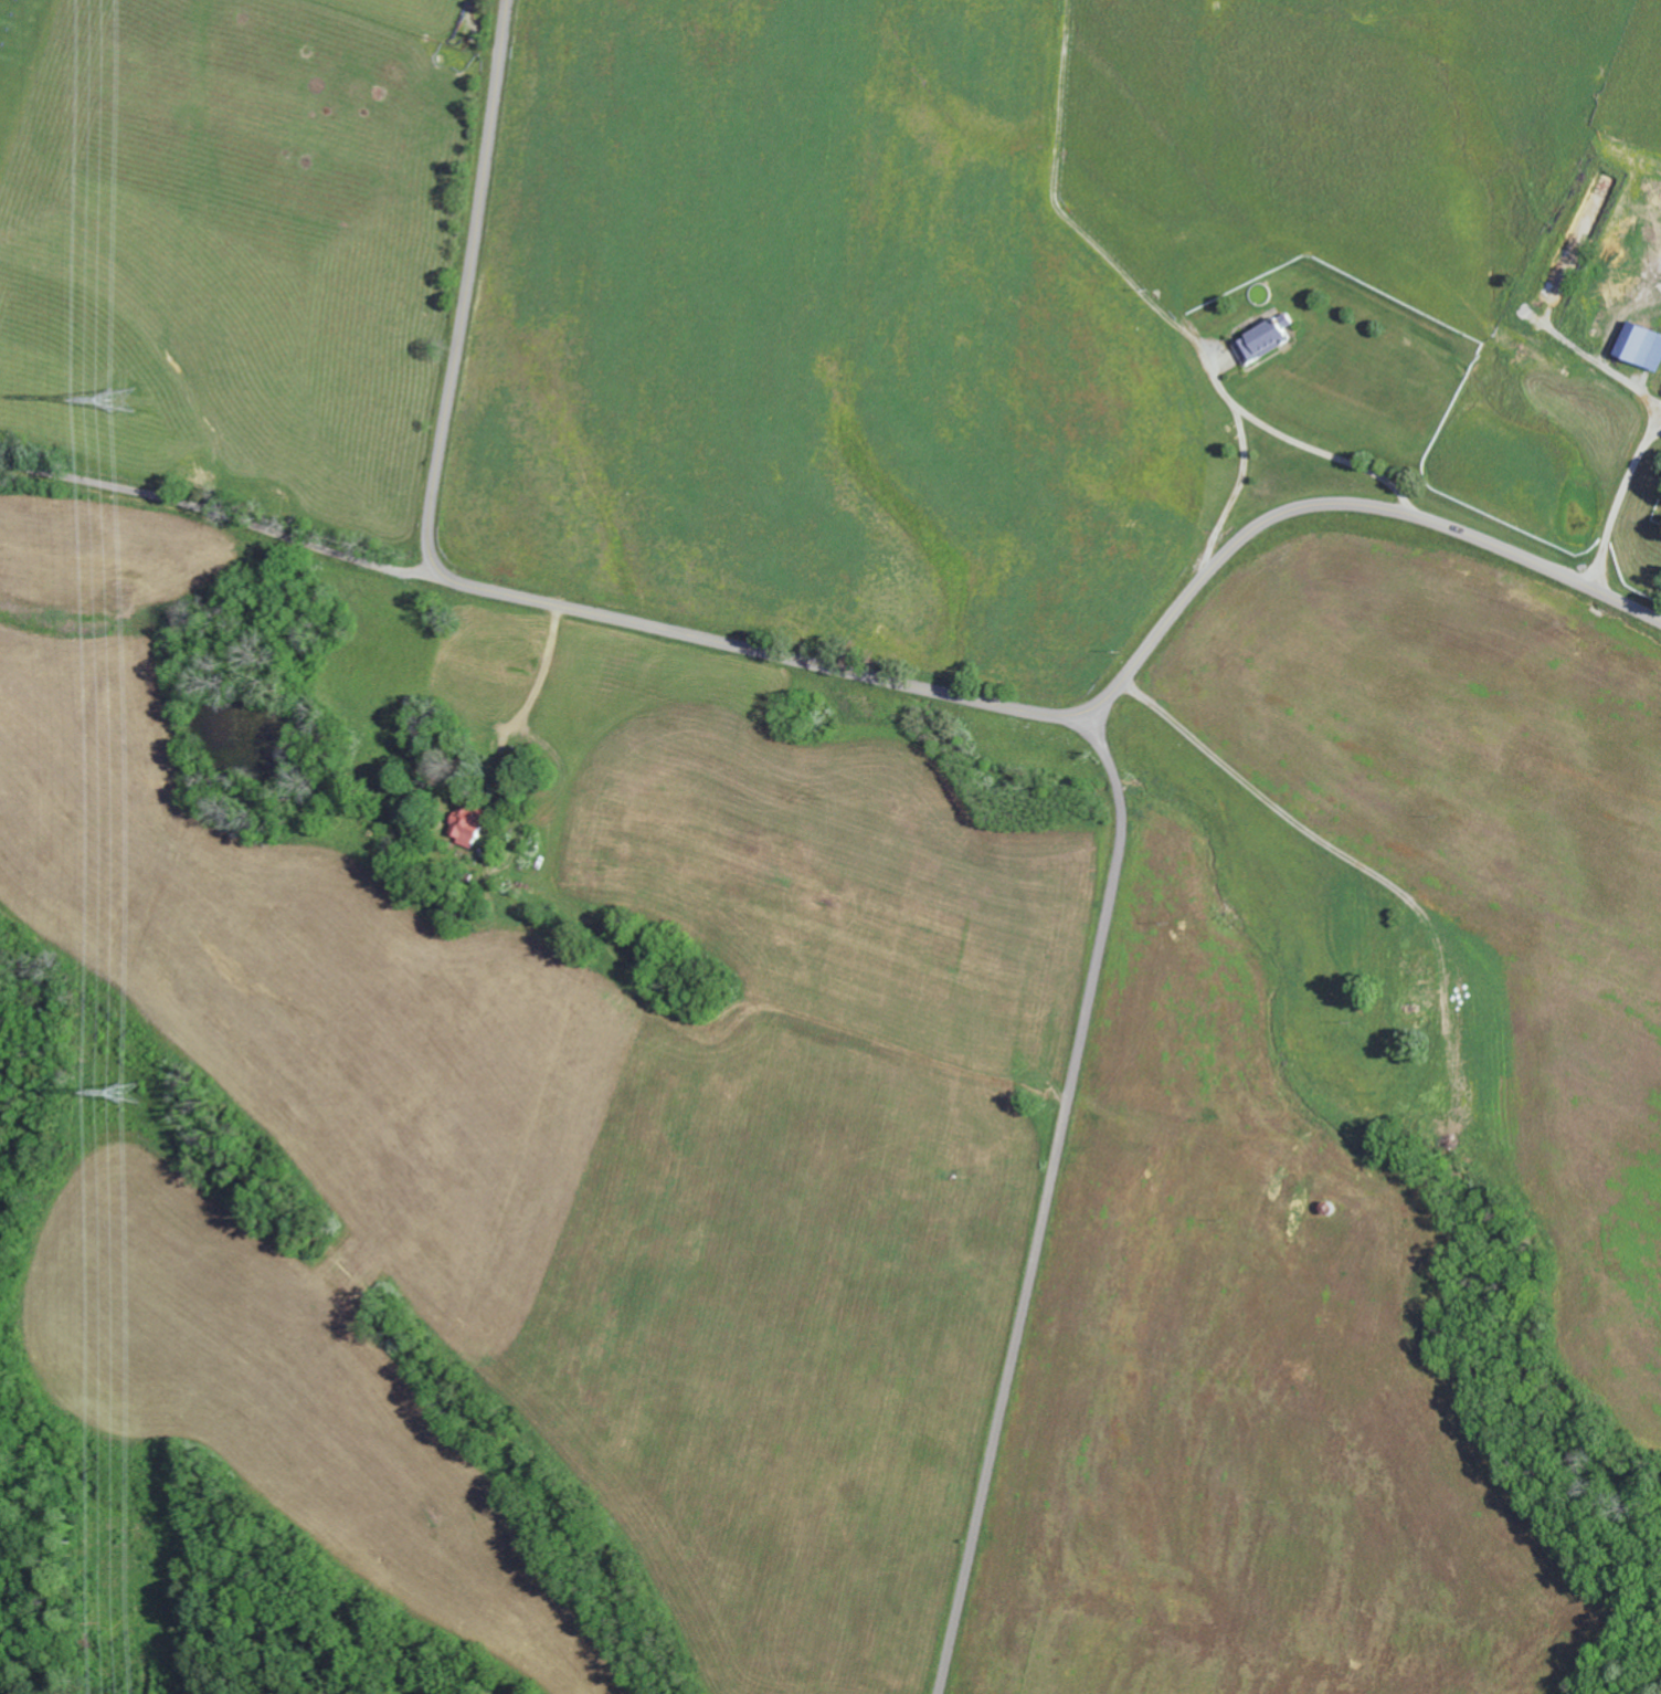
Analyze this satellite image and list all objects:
building: (1267, 341)
building: (1642, 346)
power tower: (127, 406)
road: (224, 517)
road: (812, 664)
road: (1273, 804)
building: (470, 825)
power tower: (121, 1092)
road: (1047, 1200)

